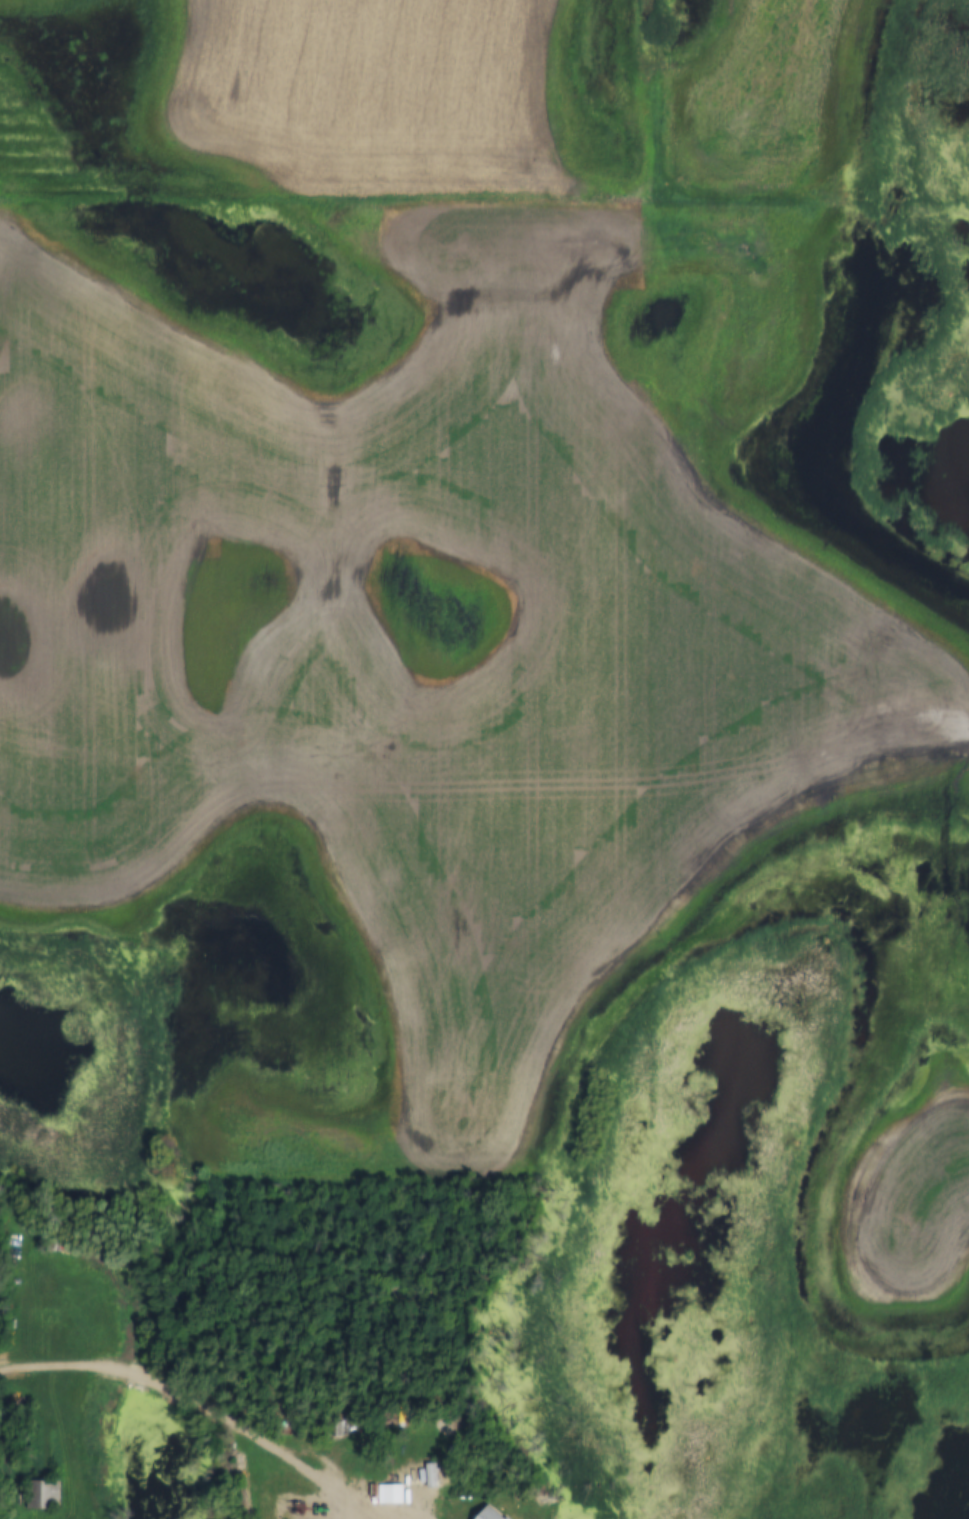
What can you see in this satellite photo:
road: (195, 1406)
building: (427, 1475)
building: (43, 1494)
building: (392, 1494)
building: (491, 1513)
road: (404, 1515)

